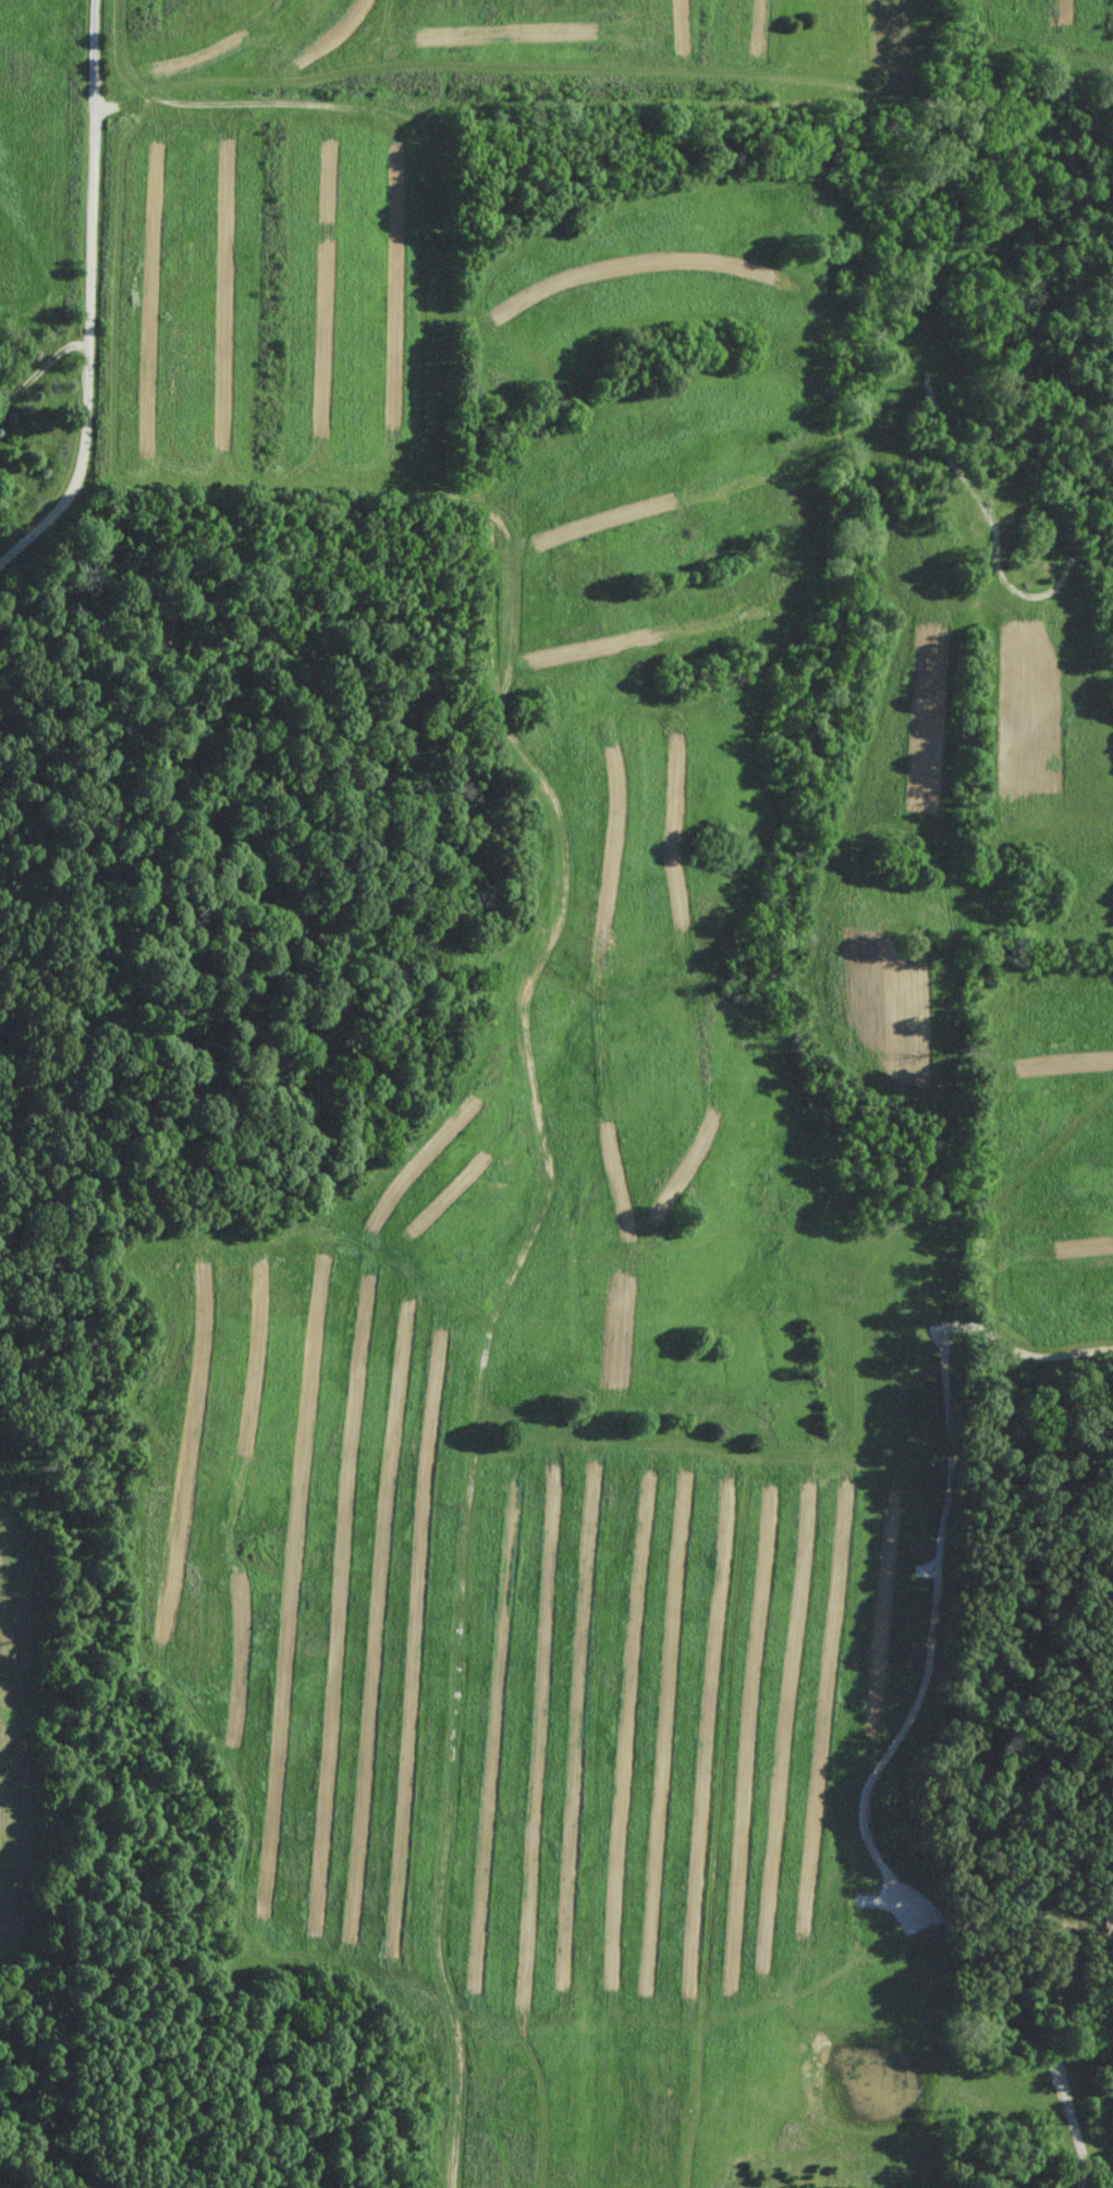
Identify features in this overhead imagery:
road: (100, 314)

